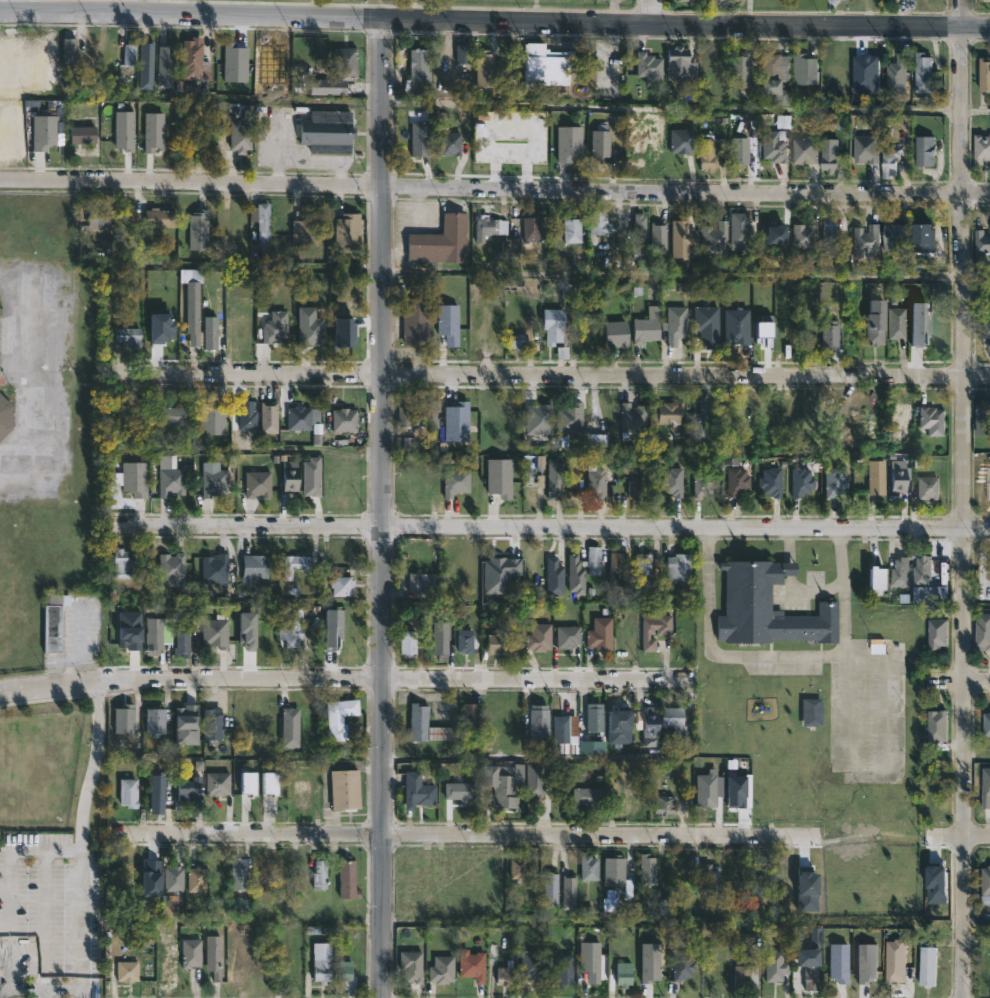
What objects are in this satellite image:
building: (833, 0)
building: (985, 0)
building: (692, 1)
building: (738, 2)
road: (20, 5)
road: (85, 5)
road: (117, 5)
road: (614, 12)
road: (649, 12)
road: (494, 20)
building: (68, 49)
building: (95, 49)
building: (130, 52)
building: (462, 52)
building: (195, 59)
building: (236, 60)
building: (273, 60)
building: (683, 63)
building: (147, 64)
building: (346, 64)
building: (544, 64)
building: (165, 65)
building: (488, 67)
building: (742, 69)
building: (807, 70)
building: (862, 72)
building: (920, 72)
building: (419, 73)
building: (983, 73)
building: (894, 75)
building: (777, 76)
building: (327, 86)
road: (975, 111)
building: (124, 130)
building: (43, 131)
building: (154, 131)
building: (328, 131)
building: (83, 134)
building: (241, 136)
building: (421, 138)
parking lot: (289, 140)
building: (685, 140)
building: (565, 141)
parking lot: (506, 142)
building: (451, 143)
building: (602, 143)
building: (772, 146)
building: (744, 148)
building: (863, 148)
building: (980, 148)
building: (921, 150)
building: (803, 151)
building: (709, 152)
building: (827, 154)
building: (887, 162)
road: (494, 188)
building: (98, 216)
building: (161, 217)
building: (602, 225)
building: (264, 226)
building: (740, 226)
building: (491, 227)
building: (348, 228)
building: (534, 228)
building: (828, 228)
building: (198, 230)
building: (574, 230)
building: (306, 231)
building: (238, 232)
building: (779, 233)
building: (920, 233)
building: (892, 234)
building: (640, 235)
building: (803, 235)
building: (717, 237)
building: (684, 238)
building: (661, 239)
building: (440, 240)
building: (864, 241)
building: (979, 246)
road: (673, 276)
road: (976, 277)
building: (192, 302)
building: (704, 322)
building: (873, 322)
building: (919, 322)
building: (894, 323)
building: (452, 324)
building: (674, 324)
building: (419, 325)
building: (555, 325)
building: (647, 325)
building: (275, 327)
building: (309, 327)
building: (763, 328)
building: (739, 329)
building: (986, 331)
building: (210, 333)
building: (616, 333)
building: (937, 334)
building: (172, 335)
building: (129, 336)
building: (829, 338)
building: (519, 341)
road: (551, 374)
road: (27, 379)
building: (769, 404)
building: (748, 408)
building: (403, 412)
building: (667, 412)
building: (246, 413)
building: (799, 414)
building: (834, 415)
building: (177, 416)
building: (6, 417)
building: (270, 417)
building: (570, 417)
building: (632, 417)
building: (538, 418)
building: (212, 419)
building: (427, 419)
building: (927, 419)
building: (981, 419)
building: (344, 420)
building: (456, 420)
building: (306, 422)
building: (700, 423)
building: (535, 465)
building: (290, 475)
building: (499, 475)
building: (554, 476)
building: (871, 476)
building: (311, 477)
building: (892, 477)
building: (135, 478)
building: (171, 478)
building: (901, 478)
building: (455, 480)
building: (671, 480)
building: (987, 480)
building: (541, 481)
building: (702, 481)
building: (736, 481)
building: (766, 481)
building: (796, 481)
building: (829, 481)
building: (214, 482)
building: (597, 483)
building: (257, 484)
building: (923, 487)
building: (636, 488)
building: (334, 489)
road: (962, 499)
road: (386, 507)
road: (553, 527)
road: (789, 544)
road: (841, 552)
building: (575, 560)
building: (596, 560)
building: (554, 561)
building: (122, 564)
building: (295, 565)
building: (171, 567)
building: (620, 567)
building: (645, 567)
building: (680, 567)
building: (256, 568)
building: (216, 569)
road: (789, 569)
building: (898, 572)
building: (920, 572)
building: (508, 578)
building: (423, 583)
building: (342, 585)
road: (812, 591)
building: (768, 607)
building: (52, 622)
building: (293, 629)
building: (129, 630)
building: (167, 631)
building: (666, 631)
building: (981, 631)
building: (216, 632)
building: (934, 632)
building: (154, 633)
building: (570, 635)
building: (599, 635)
building: (541, 636)
building: (442, 641)
building: (467, 641)
building: (409, 642)
building: (498, 642)
building: (183, 643)
road: (751, 655)
road: (346, 677)
road: (977, 680)
building: (809, 711)
parking lot: (867, 711)
building: (471, 715)
building: (596, 716)
building: (340, 718)
building: (155, 720)
building: (541, 720)
building: (125, 721)
building: (666, 721)
building: (986, 723)
building: (187, 724)
building: (212, 724)
building: (428, 724)
building: (934, 725)
building: (290, 727)
building: (623, 727)
building: (512, 728)
building: (563, 728)
road: (885, 762)
building: (219, 782)
building: (514, 782)
building: (248, 783)
building: (270, 783)
building: (984, 785)
building: (421, 787)
building: (712, 788)
building: (189, 789)
building: (345, 789)
building: (462, 790)
building: (739, 790)
building: (128, 792)
building: (156, 793)
building: (304, 795)
building: (590, 795)
building: (633, 803)
building: (667, 804)
road: (468, 833)
road: (977, 836)
road: (81, 838)
building: (519, 865)
building: (591, 867)
building: (651, 869)
building: (618, 870)
building: (263, 871)
building: (672, 871)
building: (319, 873)
building: (237, 874)
building: (412, 877)
building: (150, 878)
building: (349, 878)
building: (714, 878)
building: (174, 879)
building: (196, 879)
building: (781, 880)
building: (984, 880)
building: (758, 882)
road: (8, 884)
building: (554, 889)
building: (811, 890)
building: (571, 892)
parking lot: (53, 915)
road: (45, 924)
building: (681, 937)
building: (190, 953)
building: (214, 956)
building: (806, 957)
building: (895, 961)
building: (322, 962)
building: (533, 963)
building: (839, 963)
building: (867, 963)
building: (474, 964)
building: (683, 965)
building: (777, 965)
building: (413, 966)
building: (600, 966)
building: (927, 967)
building: (658, 968)
building: (718, 968)
building: (443, 969)
building: (566, 970)
building: (127, 971)
building: (344, 971)
building: (591, 972)
building: (626, 973)
building: (743, 974)
building: (506, 977)
road: (37, 988)

